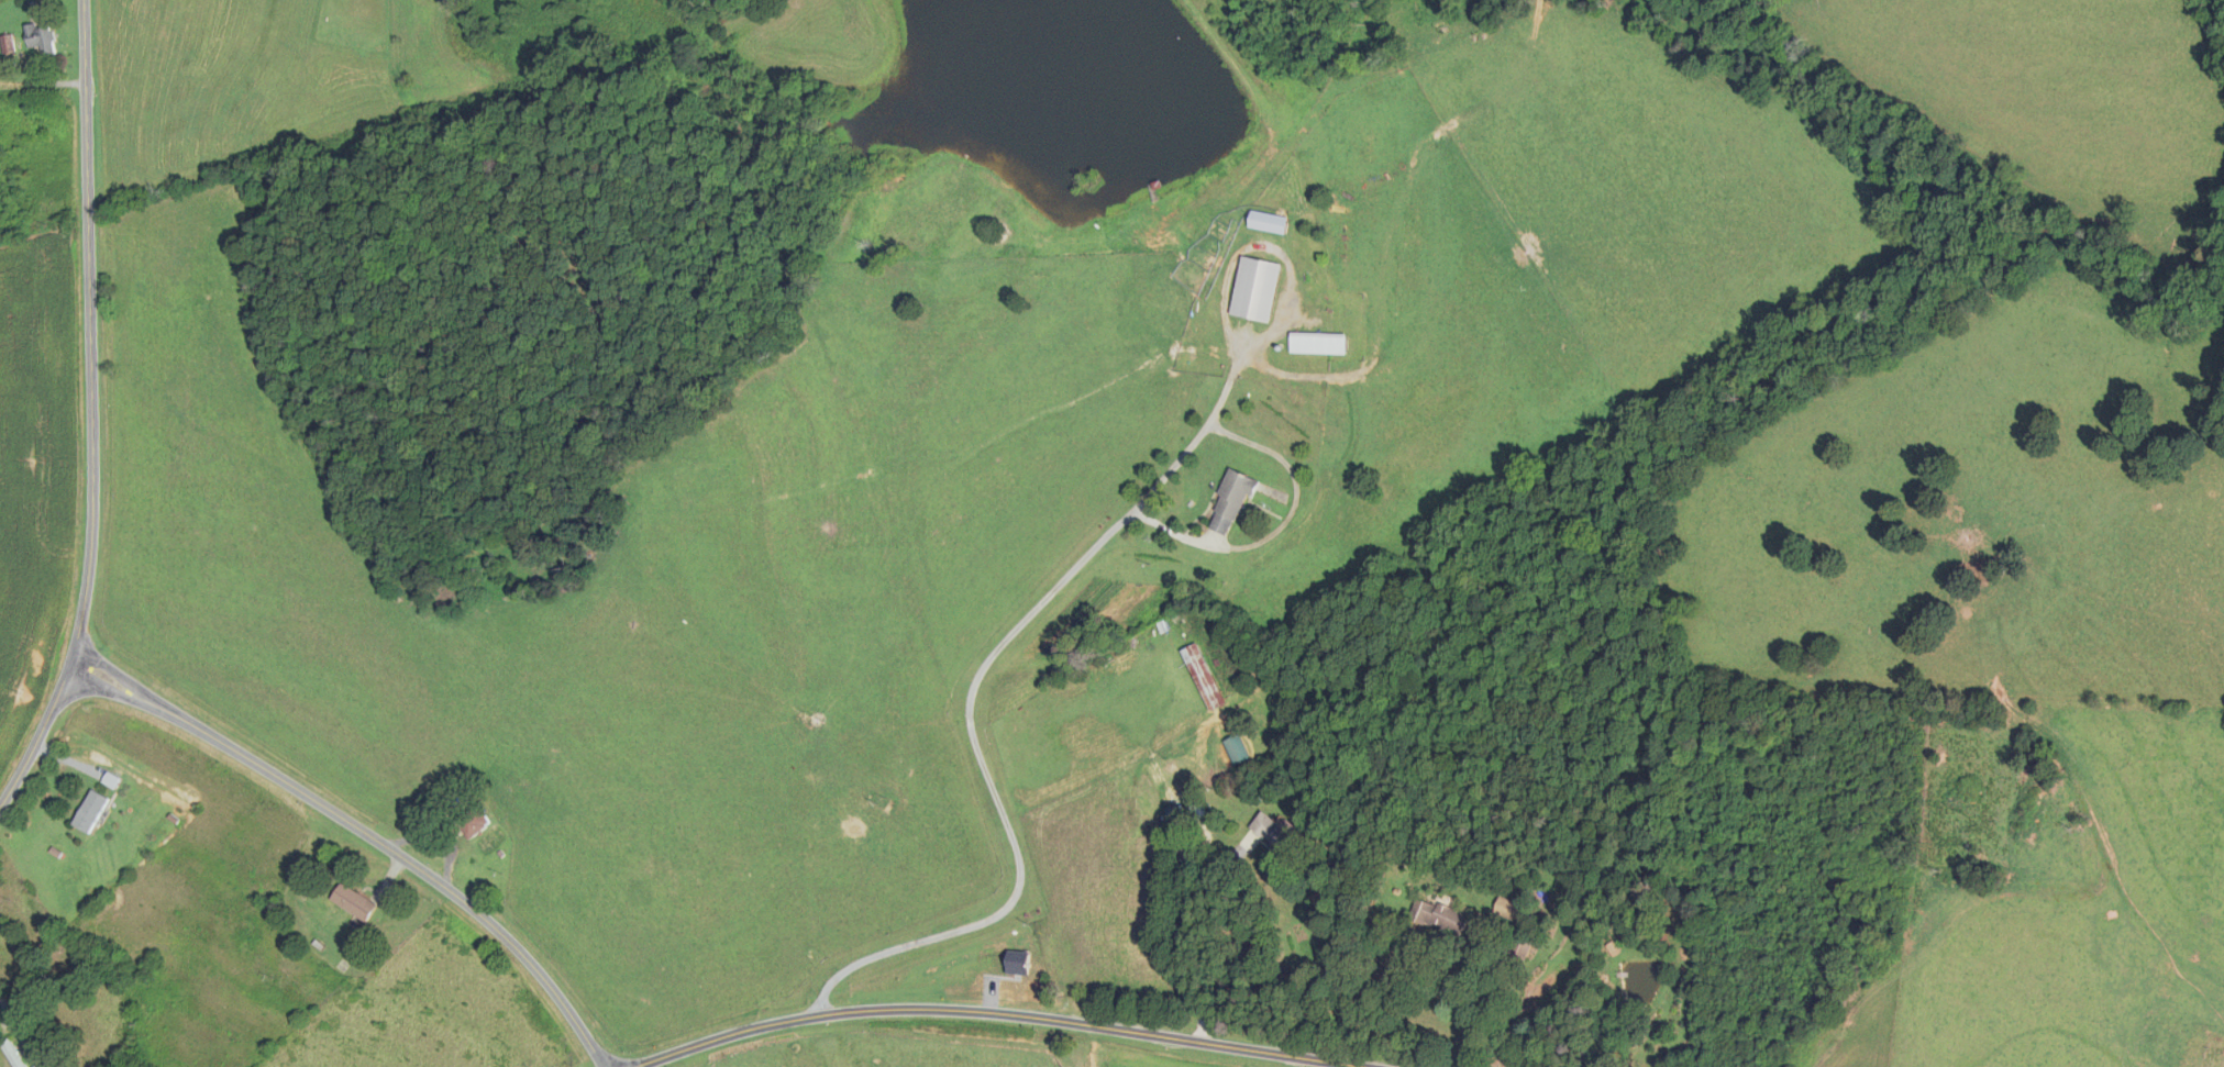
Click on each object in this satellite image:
building: (42, 38)
building: (1255, 289)
building: (1318, 343)
road: (90, 412)
road: (1182, 452)
building: (1232, 501)
building: (1204, 677)
building: (1197, 808)
building: (91, 811)
building: (473, 822)
road: (364, 832)
building: (1275, 834)
building: (354, 902)
building: (1506, 908)
road: (992, 918)
building: (1440, 918)
road: (1176, 926)
road: (855, 1010)
road: (5, 1011)
building: (2209, 1042)
road: (1228, 1043)
building: (12, 1054)

